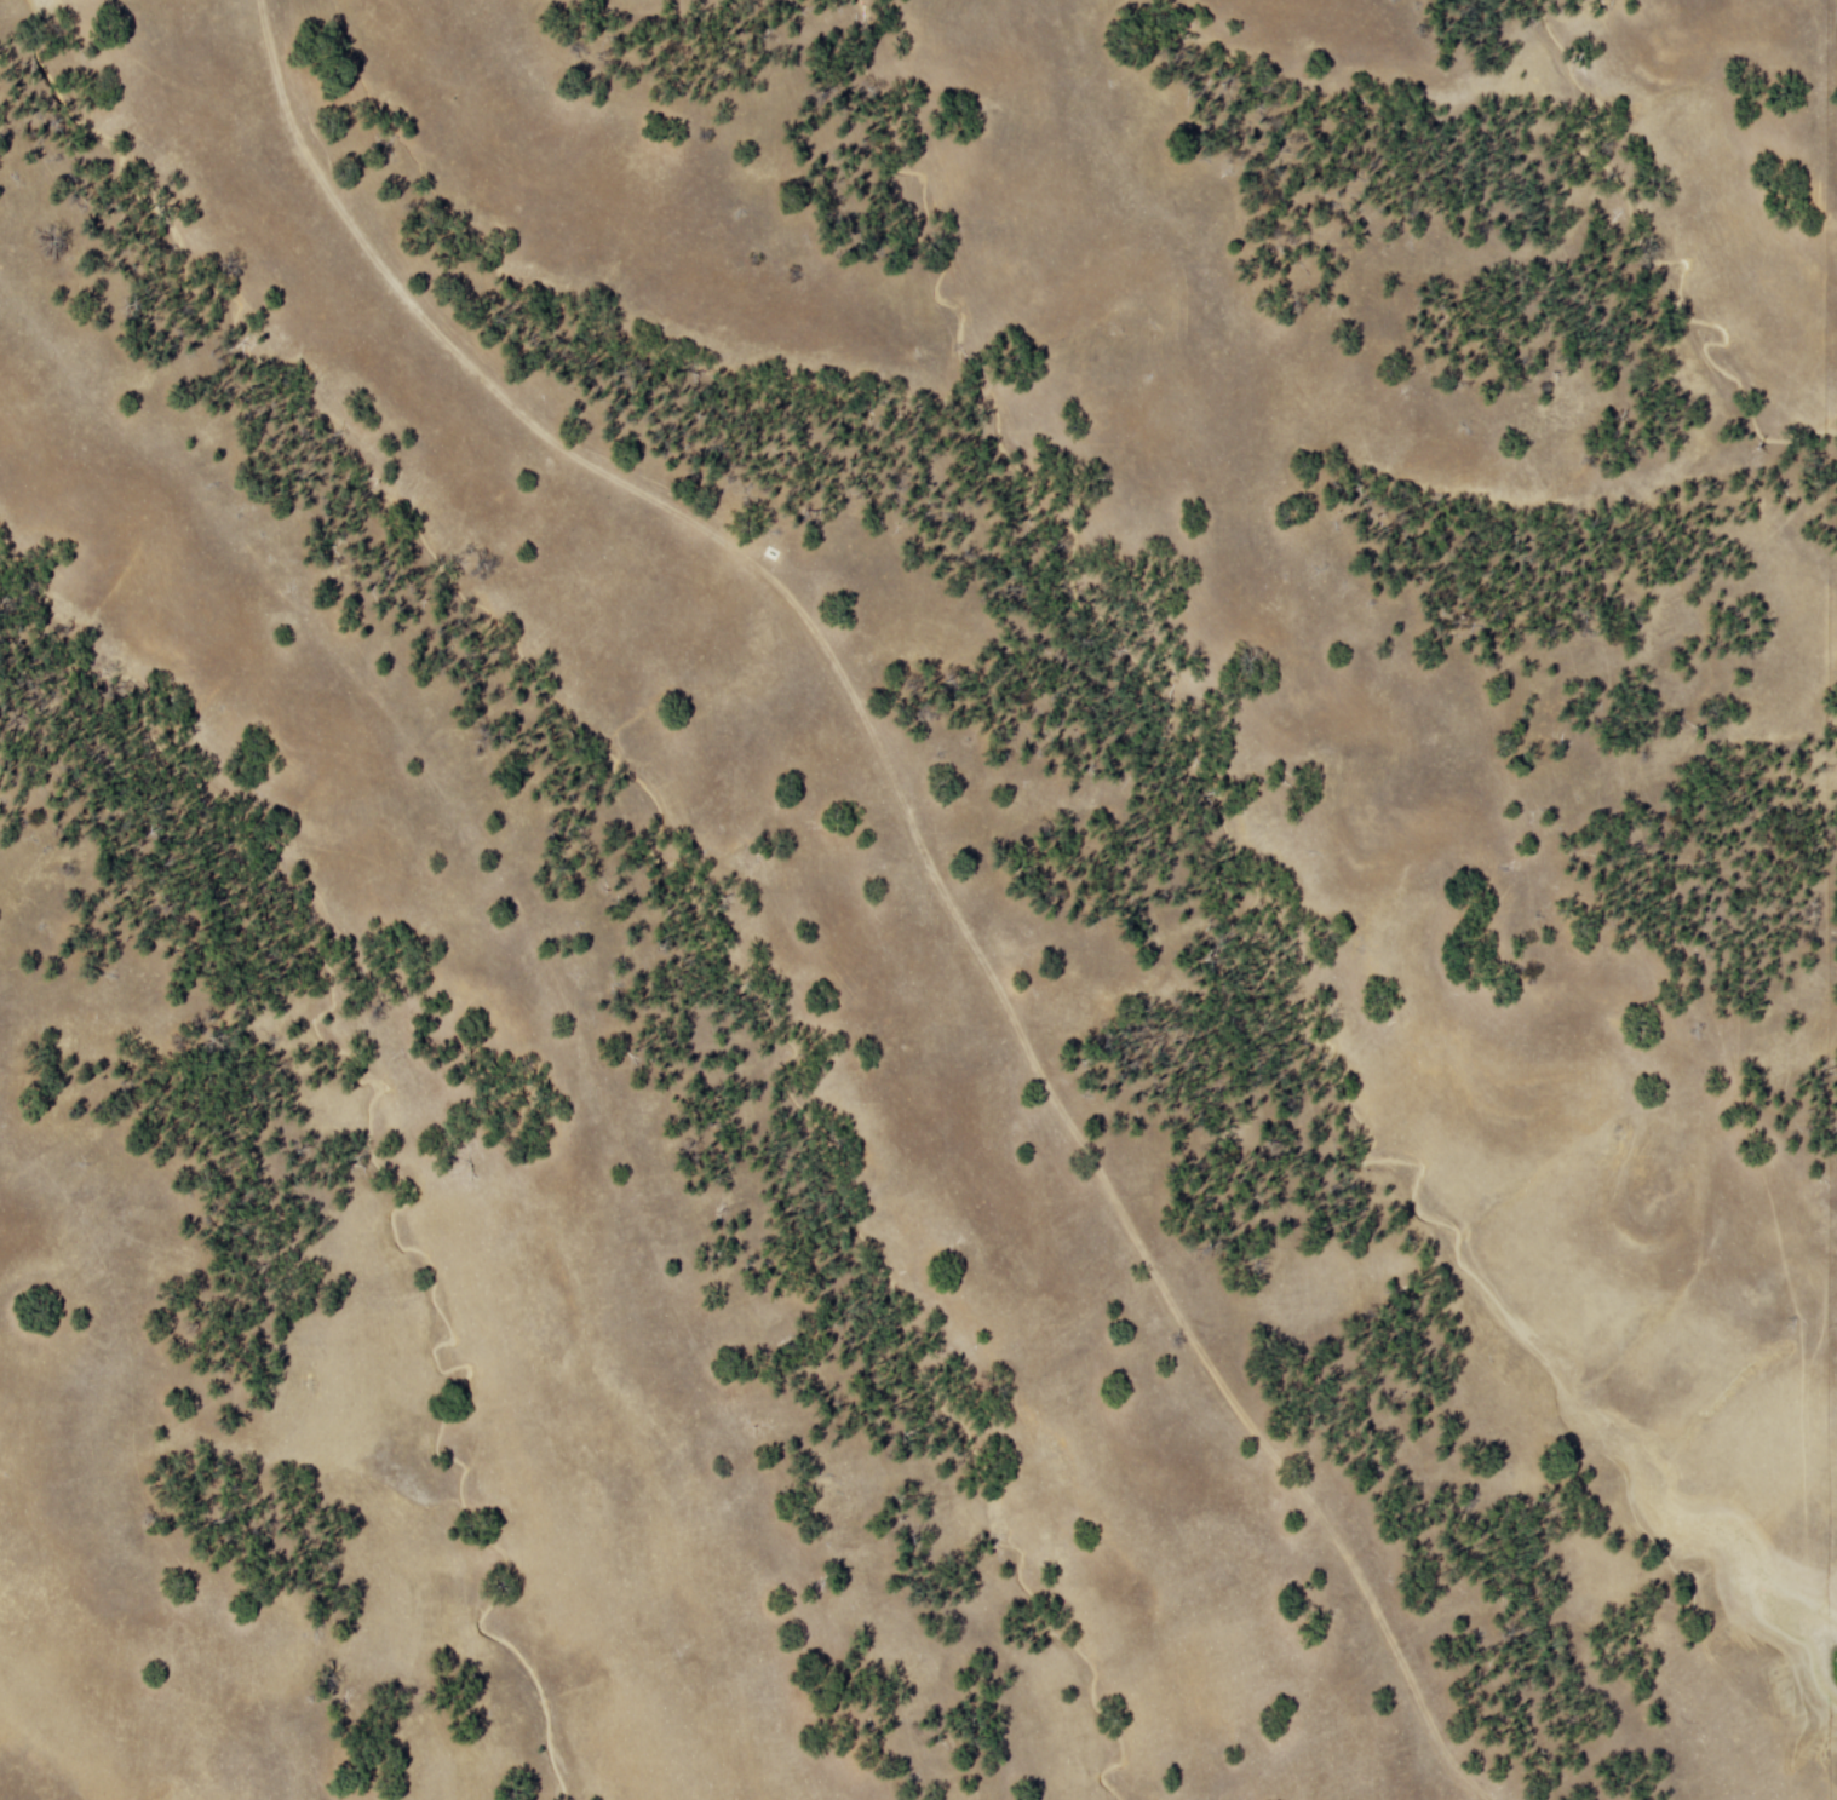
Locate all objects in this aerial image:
road: (919, 850)

